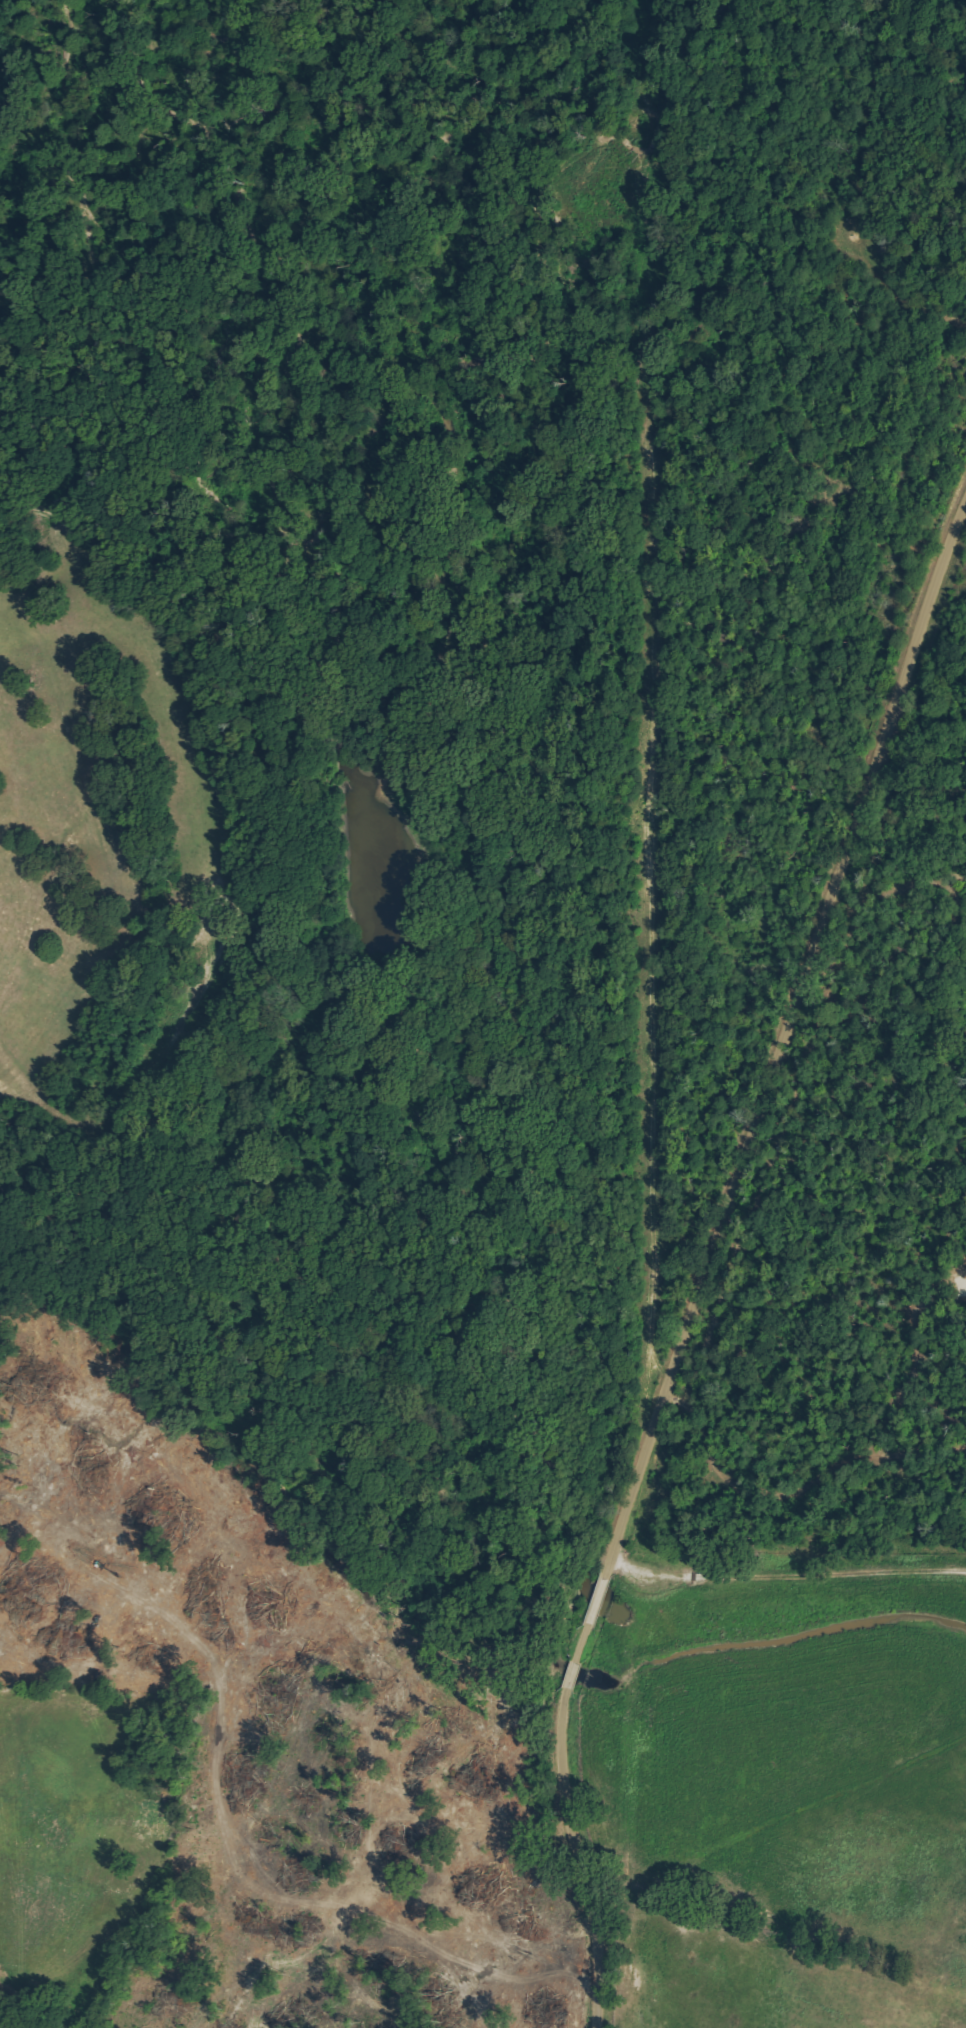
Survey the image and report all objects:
road: (708, 1255)

